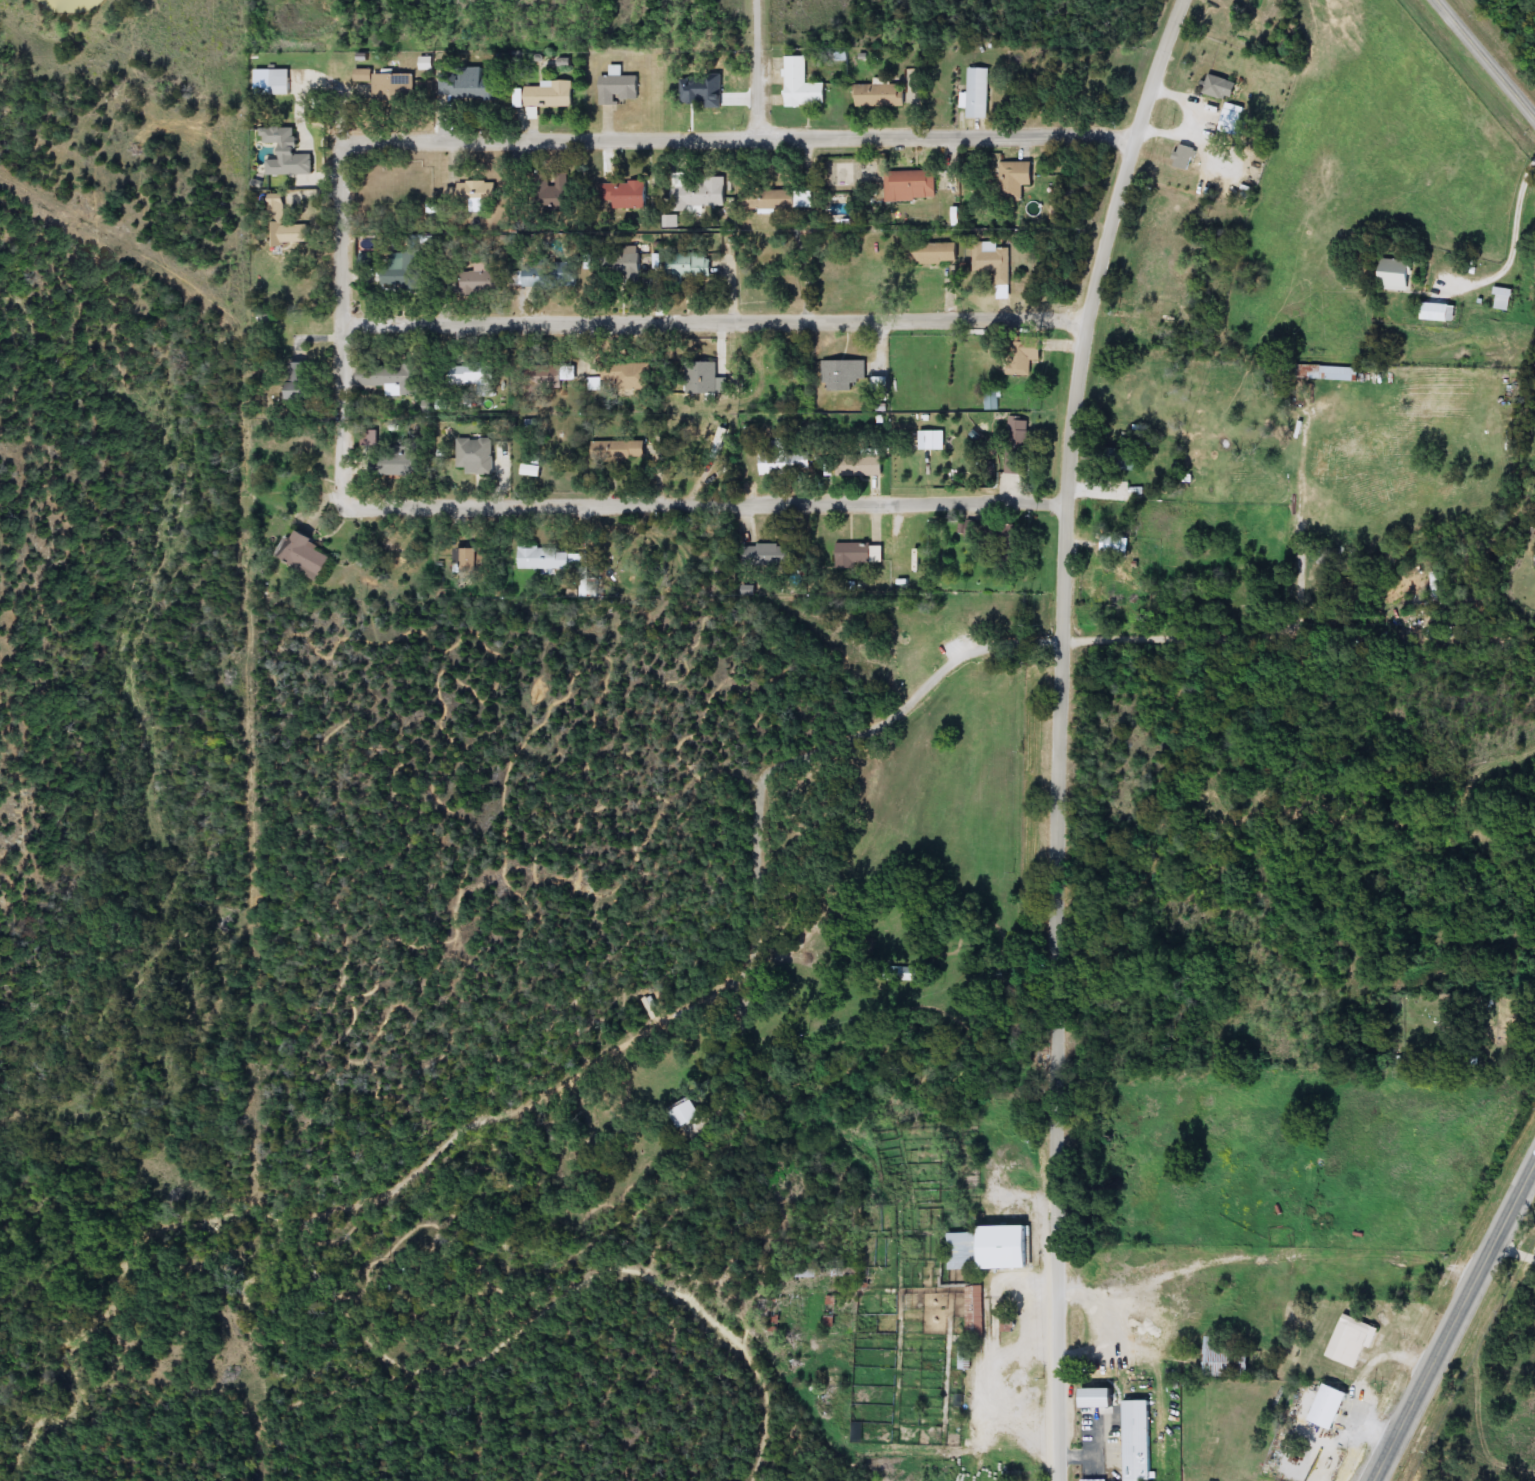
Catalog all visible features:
road: (1487, 58)
road: (761, 67)
building: (281, 82)
building: (389, 86)
building: (469, 86)
building: (802, 86)
building: (1217, 87)
building: (618, 88)
building: (977, 94)
building: (544, 96)
building: (879, 96)
building: (1233, 119)
road: (740, 135)
building: (1184, 157)
building: (1015, 180)
building: (911, 186)
building: (552, 193)
building: (469, 196)
building: (623, 196)
building: (701, 197)
building: (776, 200)
building: (285, 226)
road: (1512, 249)
building: (933, 253)
building: (995, 265)
building: (690, 266)
building: (402, 270)
building: (628, 271)
building: (549, 275)
building: (1401, 276)
building: (481, 282)
building: (1505, 299)
building: (1442, 313)
road: (717, 314)
road: (346, 338)
building: (977, 357)
building: (1024, 358)
building: (548, 374)
building: (628, 374)
building: (844, 374)
building: (1341, 374)
building: (472, 375)
building: (385, 377)
building: (701, 378)
building: (299, 380)
building: (593, 386)
building: (928, 441)
building: (1016, 450)
building: (618, 452)
building: (475, 455)
building: (783, 461)
building: (532, 468)
building: (860, 472)
road: (724, 503)
building: (768, 555)
building: (860, 555)
building: (307, 557)
building: (550, 558)
building: (477, 561)
building: (1435, 589)
building: (1110, 592)
road: (1286, 630)
road: (1481, 639)
road: (1057, 732)
road: (1531, 1005)
road: (566, 1079)
road: (840, 1149)
road: (650, 1157)
road: (286, 1207)
road: (1516, 1244)
building: (993, 1249)
building: (829, 1312)
building: (976, 1312)
road: (1454, 1322)
building: (1351, 1341)
road: (767, 1347)
road: (743, 1348)
railway: (1469, 1355)
building: (965, 1360)
building: (1332, 1406)
building: (1139, 1440)

